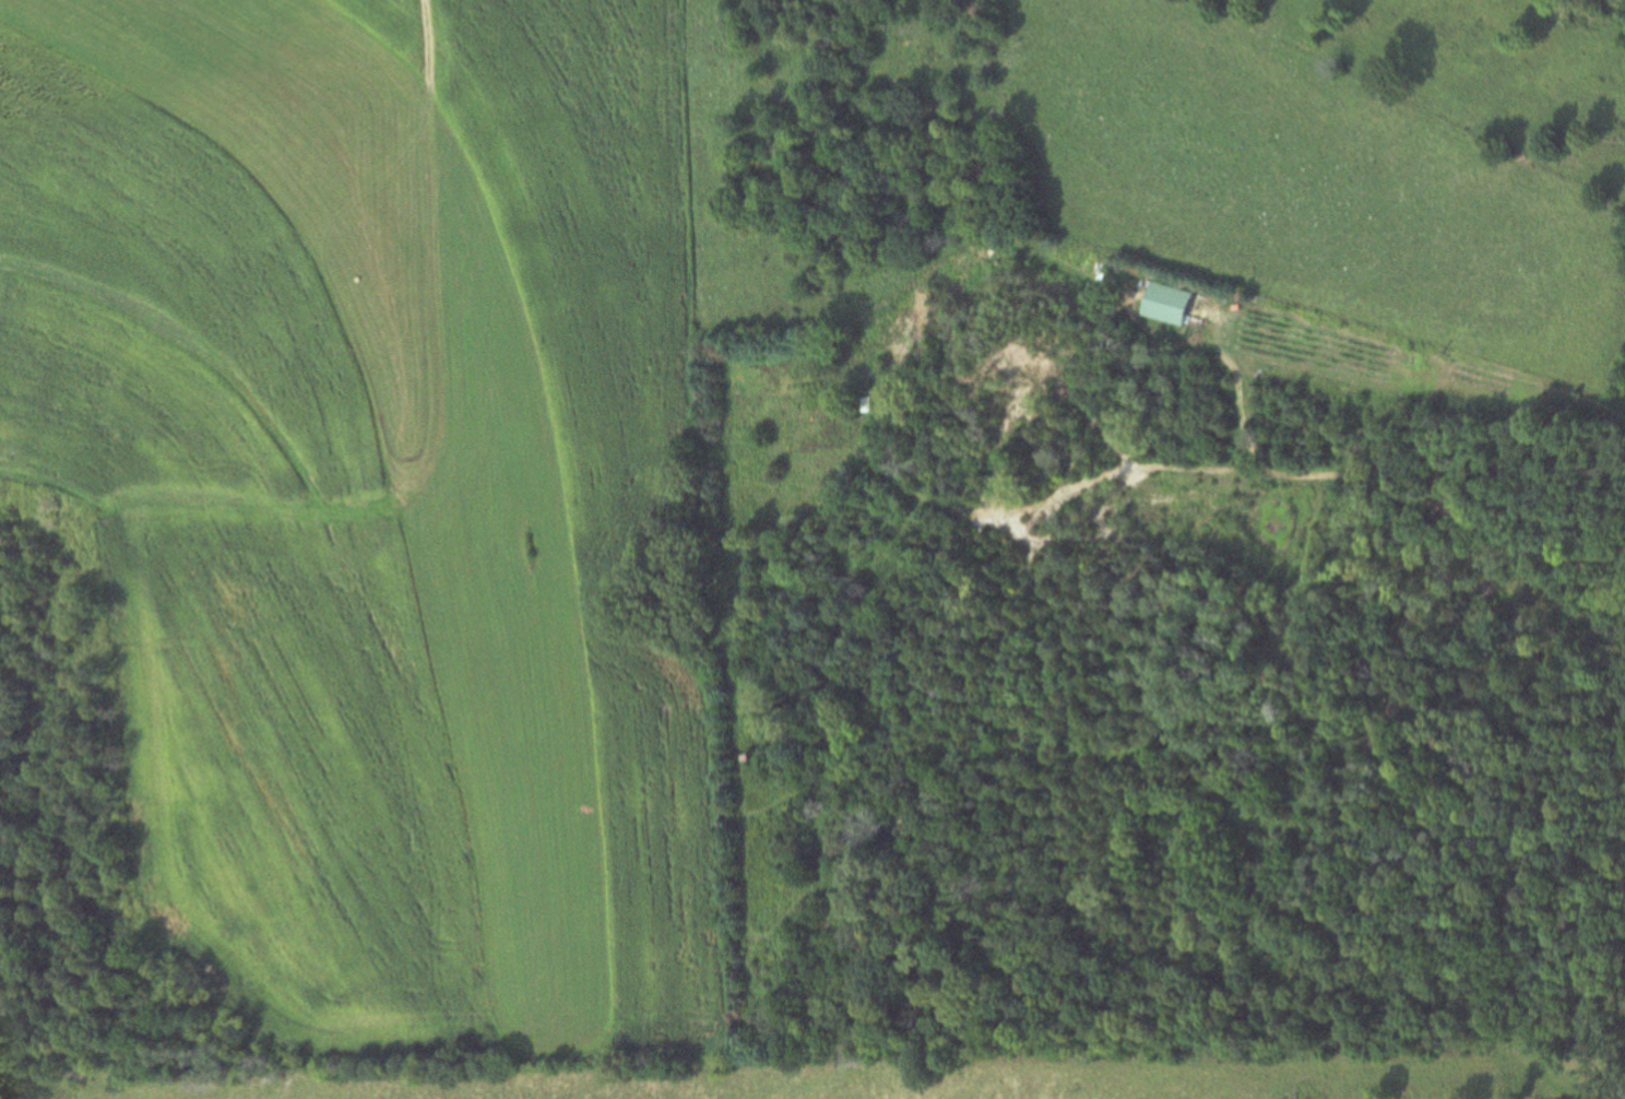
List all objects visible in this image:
building: (1161, 303)
mineshaft: (1009, 394)
road: (431, 459)
road: (1374, 482)
road: (1040, 511)

